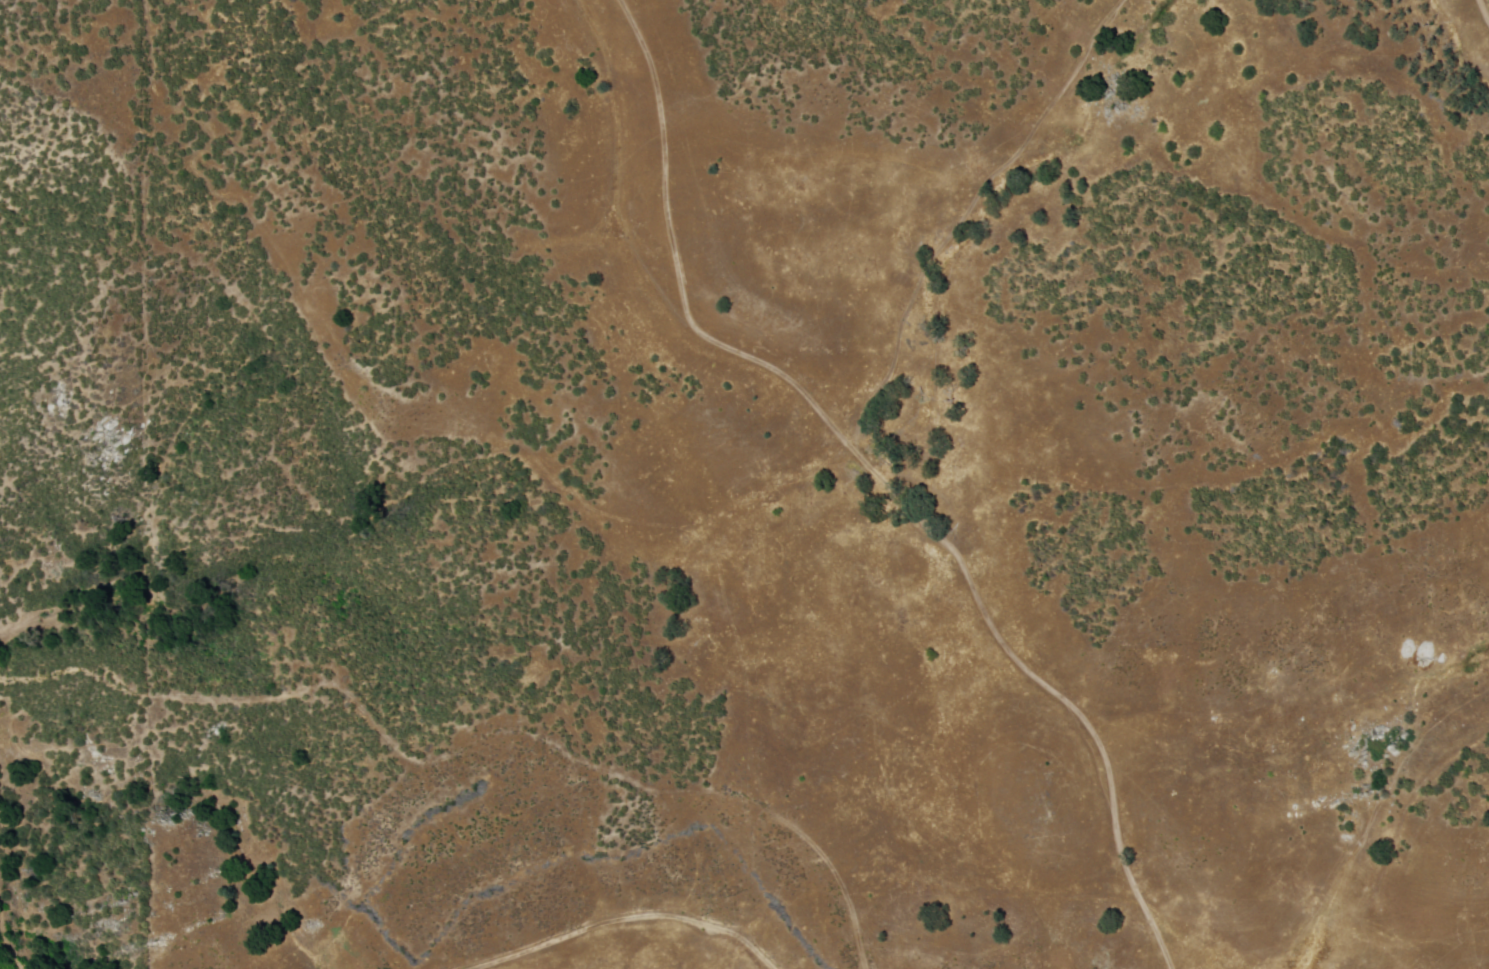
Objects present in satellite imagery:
road: (1486, 6)
road: (881, 475)

